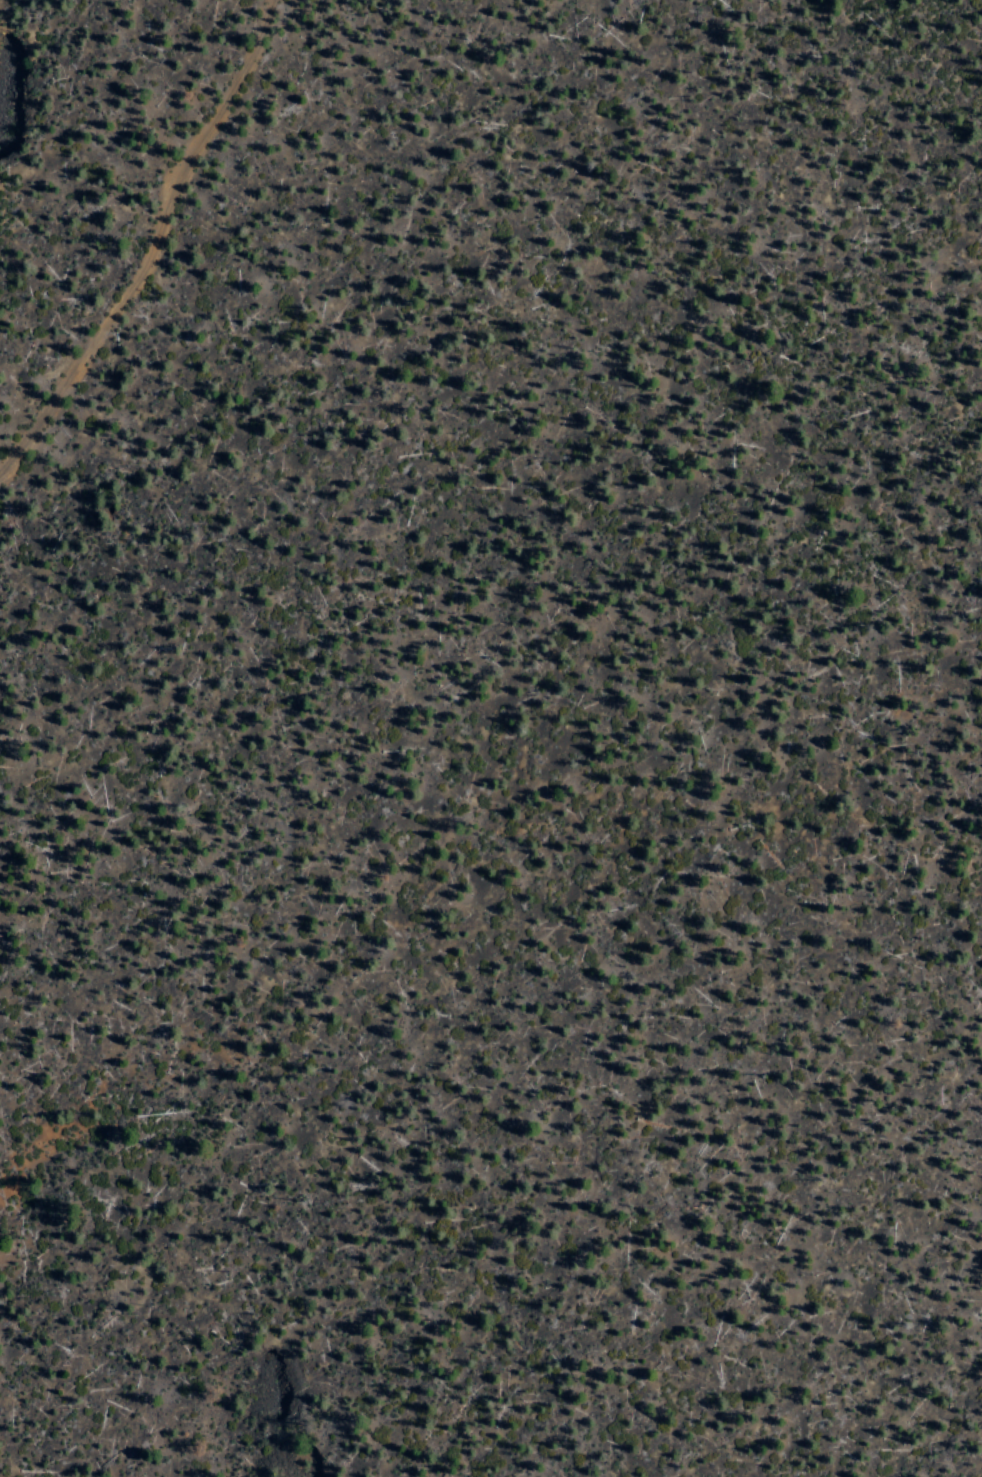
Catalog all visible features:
road: (155, 246)

